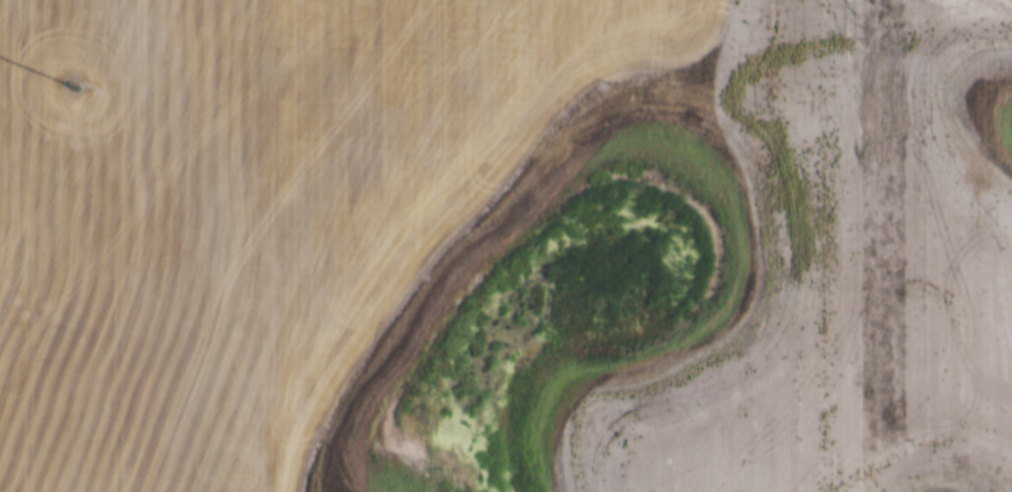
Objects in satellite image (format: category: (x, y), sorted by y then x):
power tower: (69, 87)

